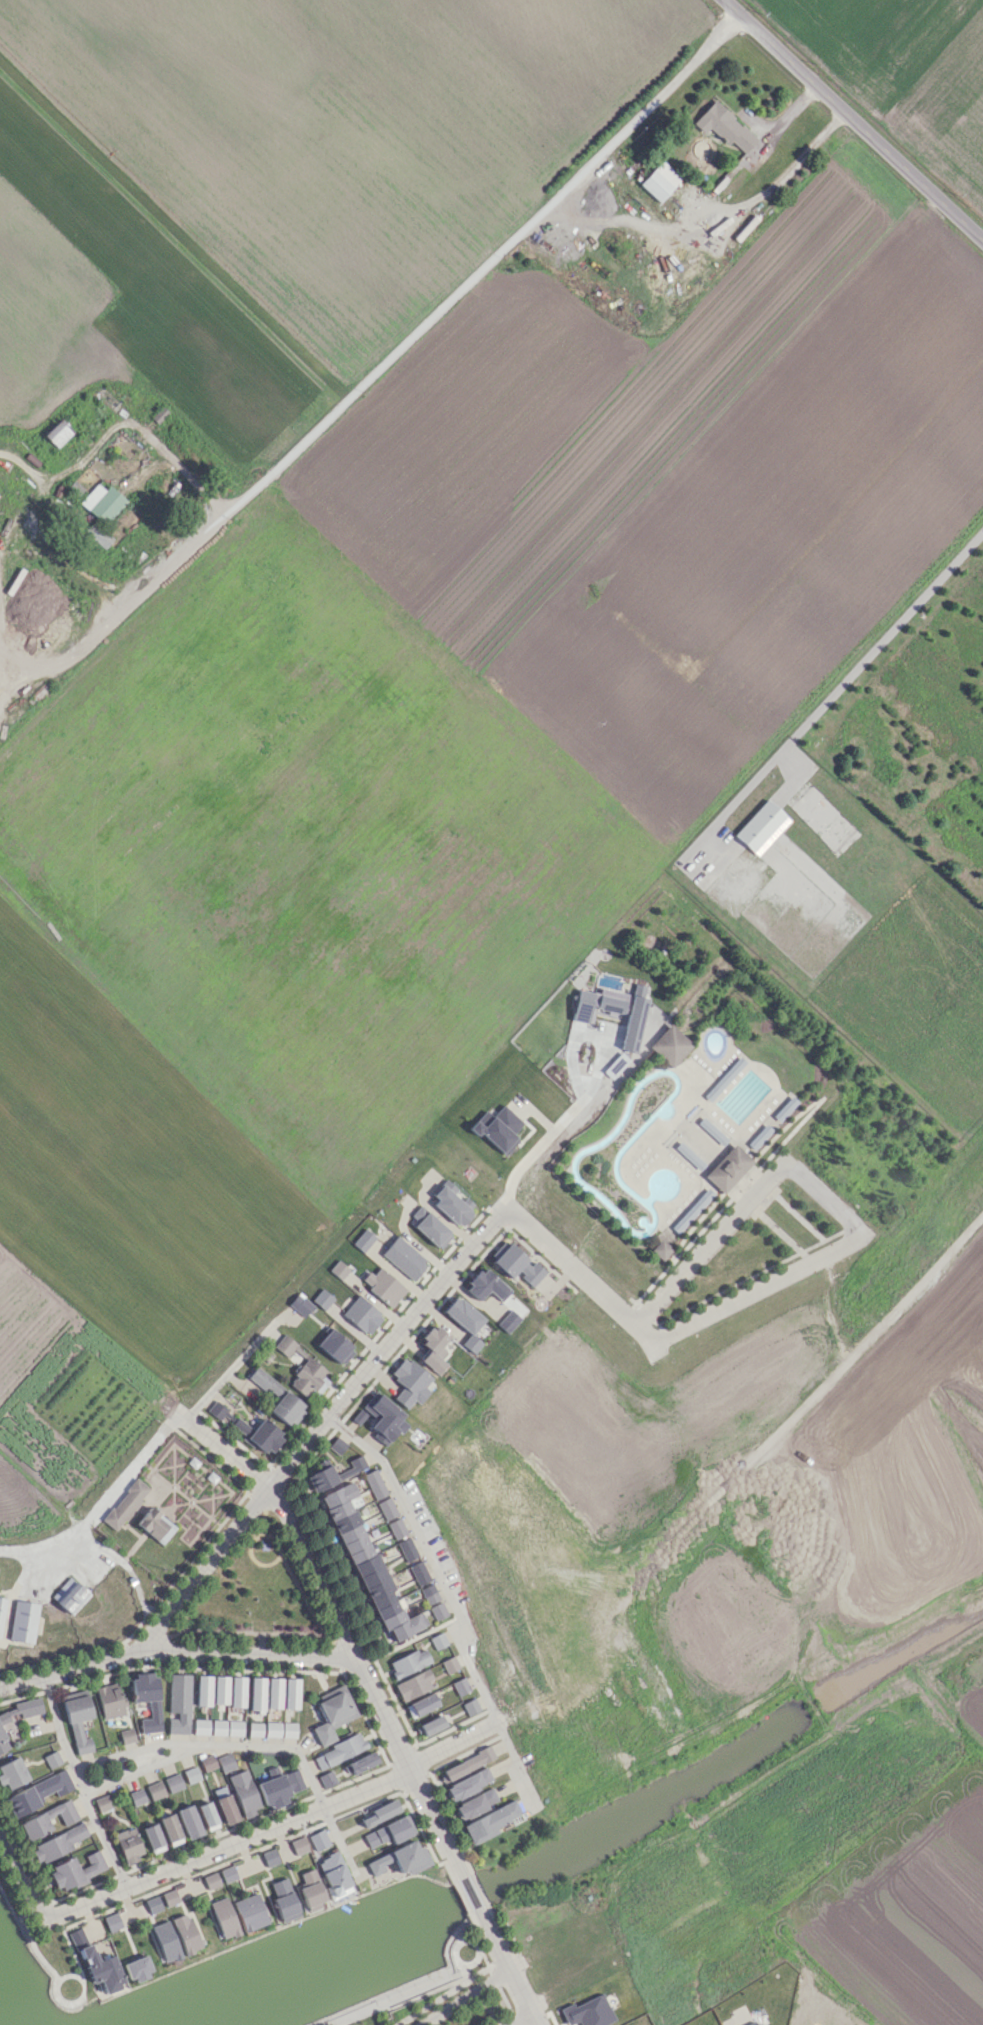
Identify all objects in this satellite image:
road: (852, 120)
building: (723, 126)
building: (659, 181)
road: (391, 356)
building: (57, 432)
building: (102, 501)
road: (849, 680)
building: (761, 827)
building: (669, 1045)
building: (723, 1078)
building: (784, 1108)
building: (498, 1129)
building: (759, 1136)
road: (531, 1153)
building: (688, 1156)
building: (727, 1168)
building: (450, 1202)
building: (691, 1210)
building: (429, 1227)
building: (362, 1240)
road: (709, 1243)
building: (659, 1249)
building: (403, 1258)
building: (516, 1264)
road: (801, 1264)
building: (338, 1269)
road: (579, 1274)
building: (383, 1285)
building: (485, 1285)
building: (321, 1298)
building: (299, 1304)
building: (361, 1315)
building: (461, 1315)
building: (507, 1321)
road: (948, 1322)
building: (470, 1343)
building: (334, 1347)
building: (432, 1349)
building: (303, 1370)
road: (227, 1372)
building: (409, 1382)
building: (278, 1399)
building: (218, 1411)
building: (357, 1416)
building: (383, 1417)
road: (317, 1427)
building: (258, 1435)
building: (336, 1445)
road: (222, 1449)
building: (352, 1467)
building: (320, 1478)
building: (374, 1484)
road: (101, 1503)
building: (125, 1504)
building: (386, 1508)
building: (154, 1525)
building: (396, 1528)
building: (406, 1549)
road: (426, 1559)
building: (367, 1565)
building: (418, 1573)
building: (428, 1594)
building: (69, 1595)
building: (437, 1611)
building: (1, 1612)
building: (23, 1622)
road: (244, 1654)
building: (408, 1662)
building: (449, 1664)
road: (68, 1669)
road: (363, 1679)
building: (413, 1685)
building: (459, 1686)
building: (219, 1689)
building: (202, 1690)
building: (236, 1691)
building: (272, 1693)
building: (289, 1693)
building: (255, 1694)
building: (146, 1699)
building: (110, 1701)
building: (178, 1703)
building: (420, 1705)
building: (28, 1707)
building: (470, 1707)
building: (7, 1714)
building: (333, 1714)
building: (77, 1722)
building: (430, 1725)
building: (200, 1726)
building: (218, 1727)
building: (234, 1727)
building: (254, 1729)
building: (272, 1729)
building: (288, 1730)
building: (126, 1735)
building: (2, 1742)
building: (338, 1751)
building: (51, 1759)
road: (155, 1761)
building: (207, 1762)
building: (225, 1762)
building: (360, 1763)
road: (516, 1764)
building: (12, 1773)
building: (190, 1774)
building: (326, 1779)
building: (172, 1782)
building: (468, 1784)
building: (279, 1788)
building: (155, 1790)
building: (244, 1792)
building: (36, 1793)
building: (136, 1797)
building: (102, 1803)
building: (474, 1804)
building: (226, 1809)
building: (379, 1812)
building: (207, 1816)
building: (46, 1820)
building: (189, 1821)
building: (488, 1822)
road: (270, 1826)
building: (170, 1829)
building: (389, 1832)
building: (153, 1838)
road: (101, 1839)
building: (318, 1839)
building: (57, 1843)
building: (128, 1845)
building: (298, 1845)
building: (269, 1857)
building: (400, 1859)
building: (74, 1871)
building: (228, 1873)
road: (20, 1878)
building: (210, 1880)
building: (311, 1890)
road: (468, 1892)
building: (169, 1897)
building: (283, 1899)
building: (153, 1904)
building: (250, 1912)
building: (224, 1918)
building: (112, 1922)
building: (186, 1933)
road: (492, 1938)
building: (165, 1941)
building: (96, 1964)
building: (137, 1968)
road: (516, 1988)
road: (460, 1996)
building: (587, 2012)
road: (514, 2017)
road: (529, 2017)
building: (761, 2024)

